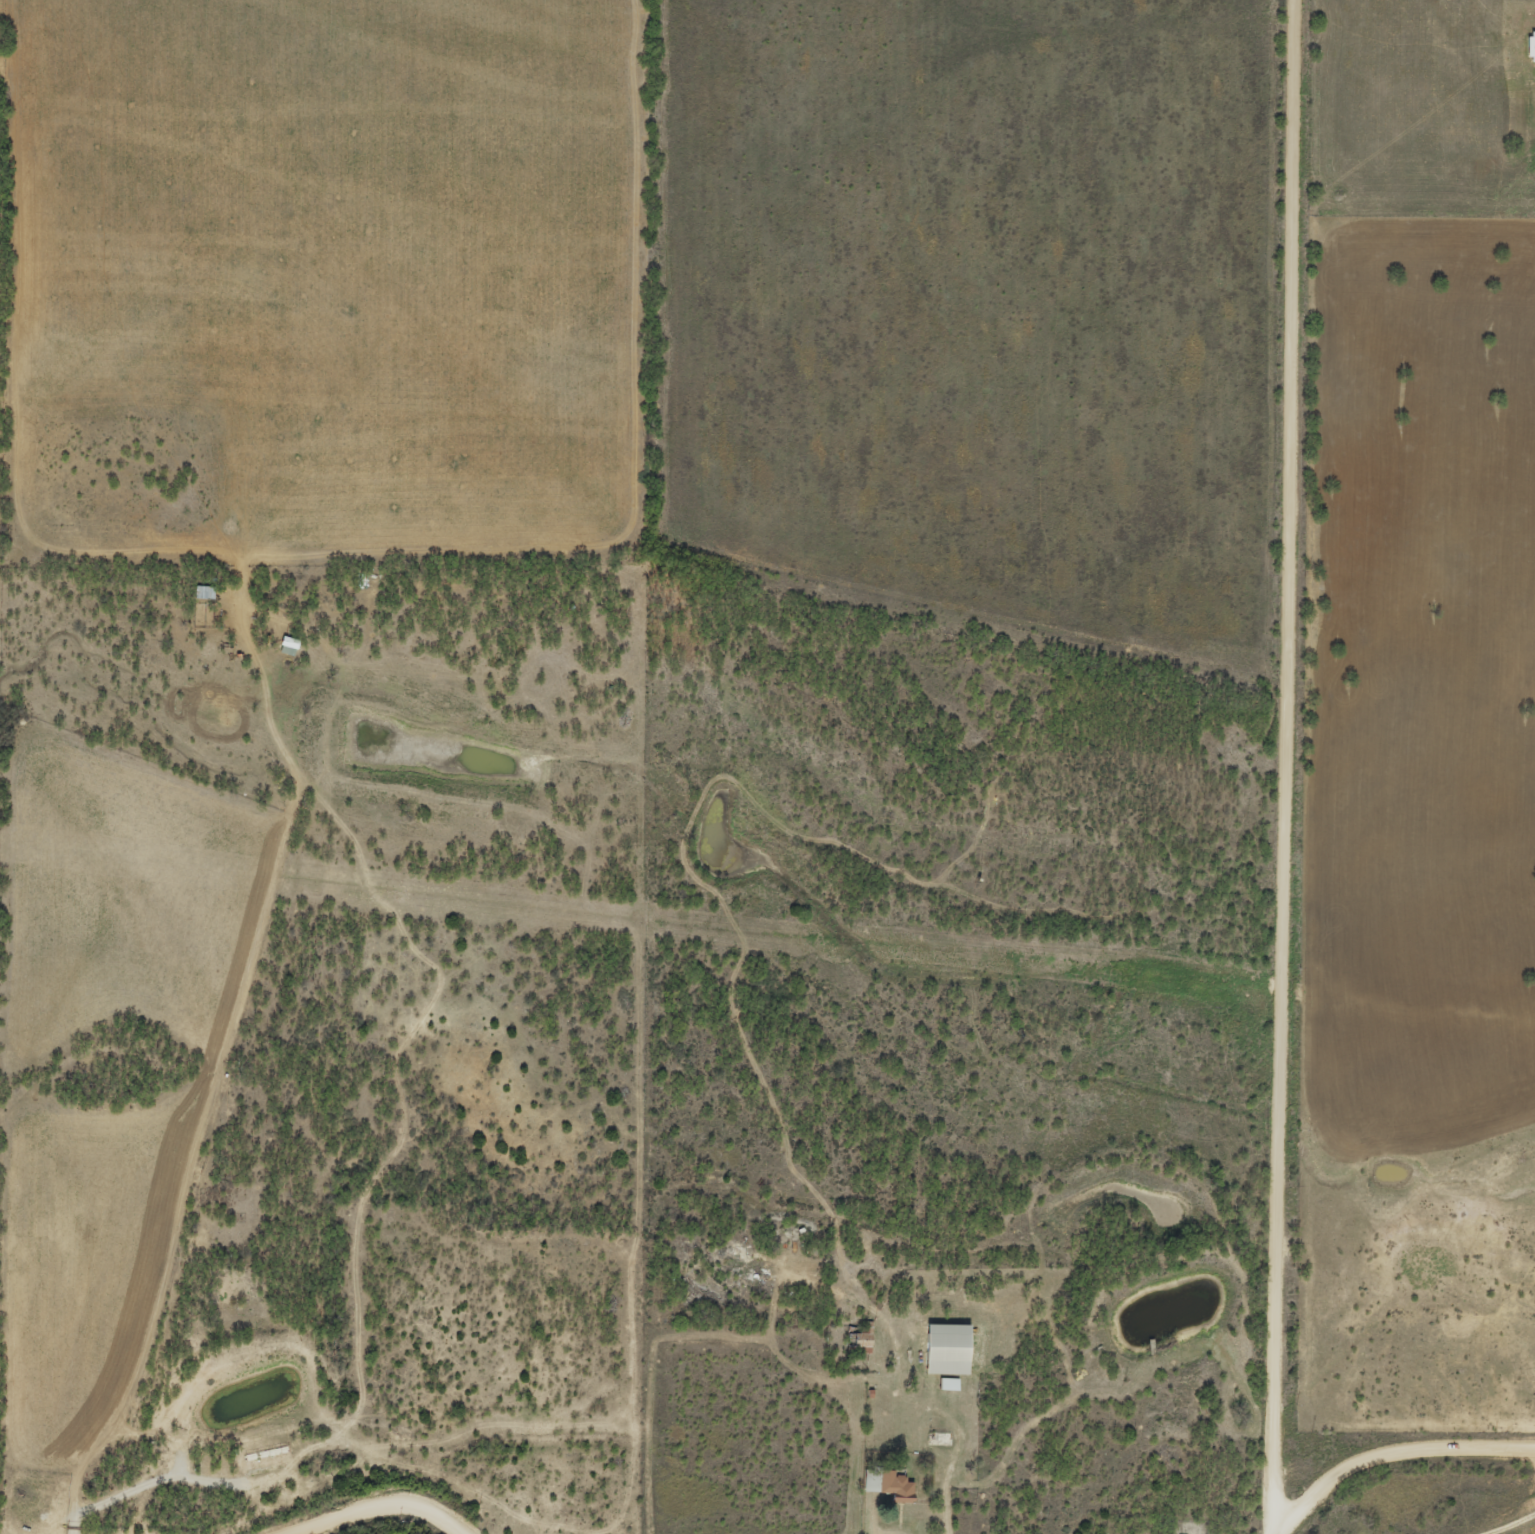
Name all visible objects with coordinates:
building: (203, 592)
building: (287, 645)
road: (1259, 705)
building: (860, 1338)
building: (946, 1348)
building: (936, 1438)
road: (1396, 1440)
road: (1254, 1472)
building: (890, 1486)
road: (1393, 1499)
road: (1363, 1511)

